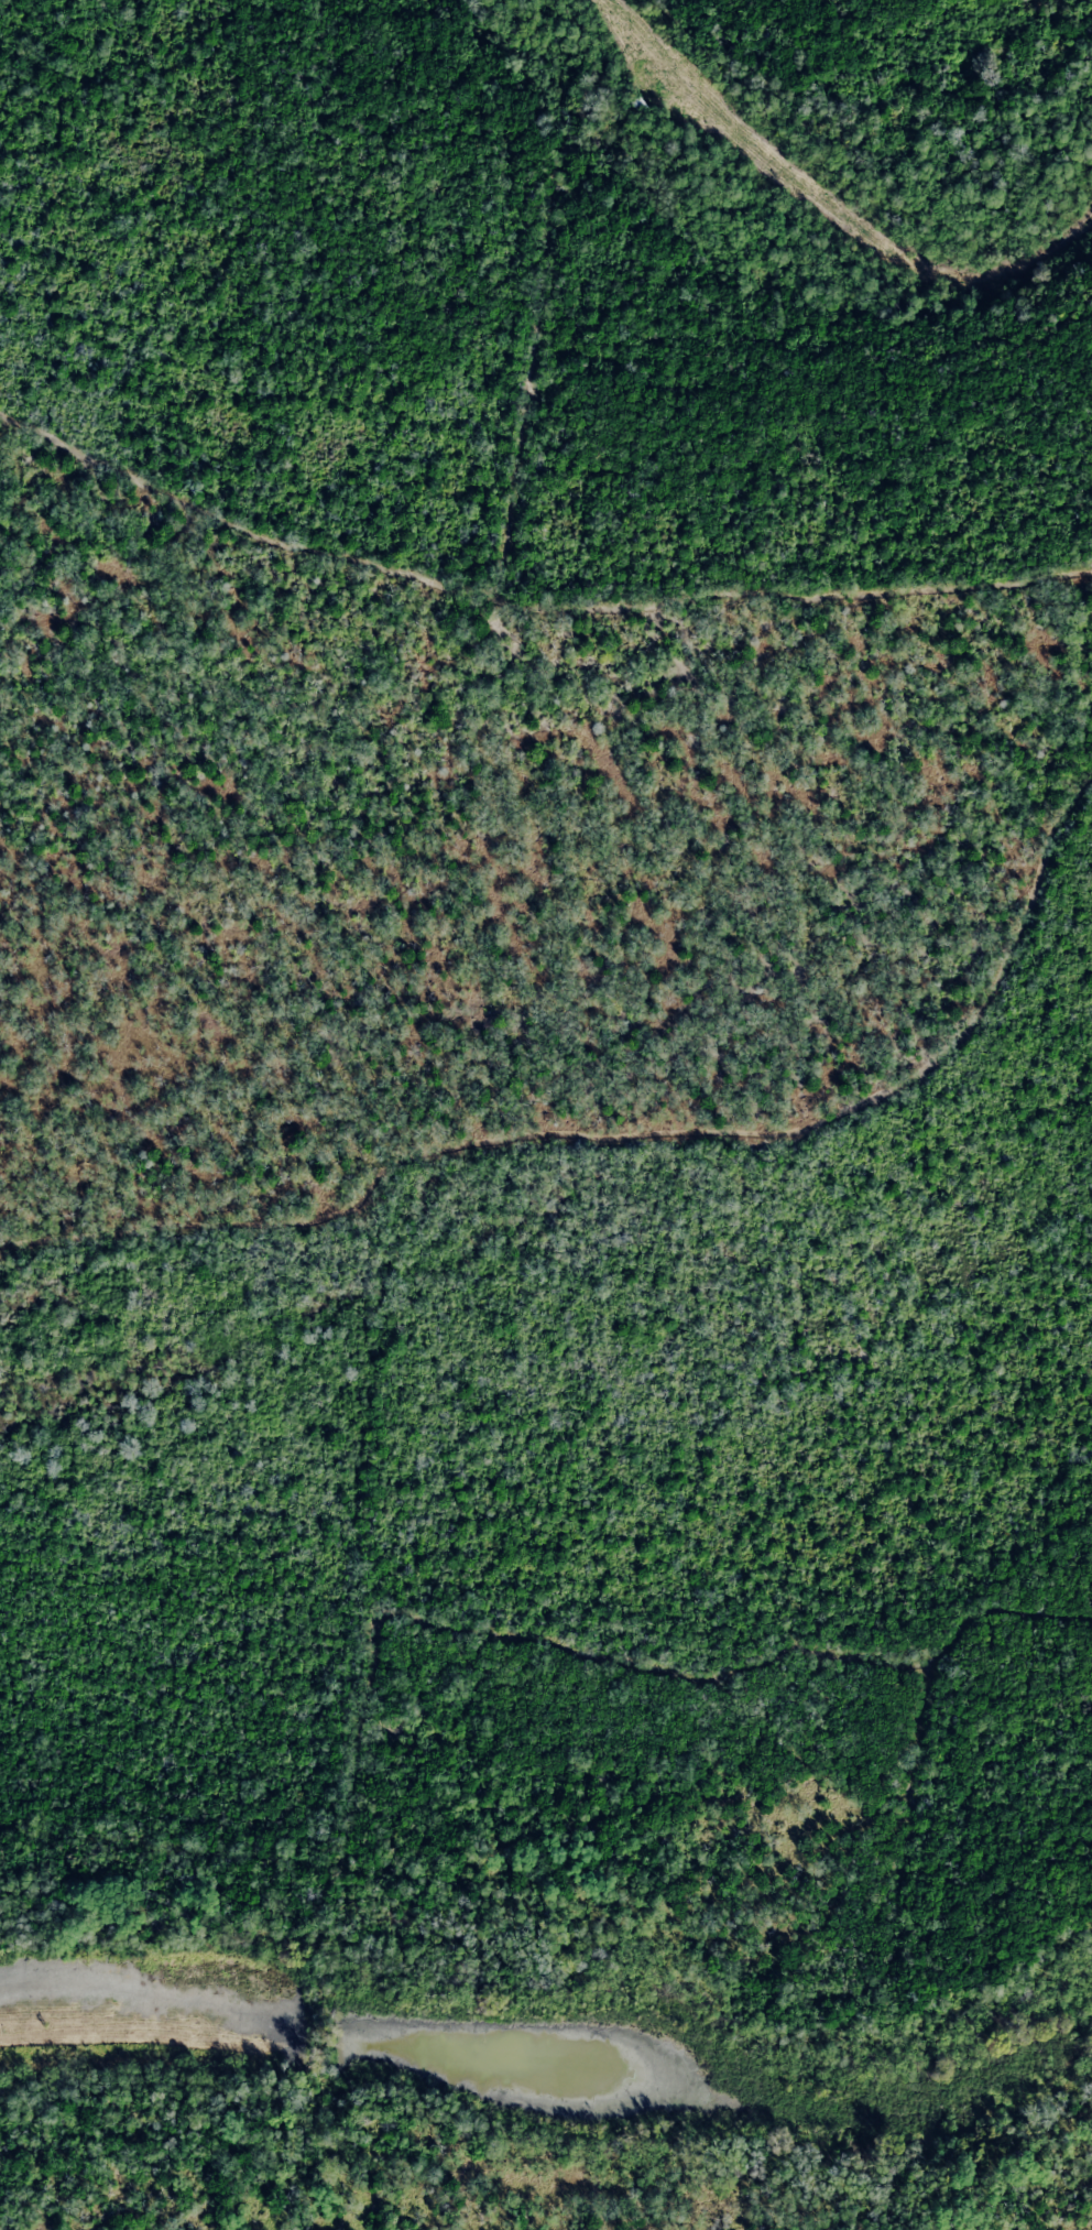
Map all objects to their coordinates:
river: (130, 1982)

